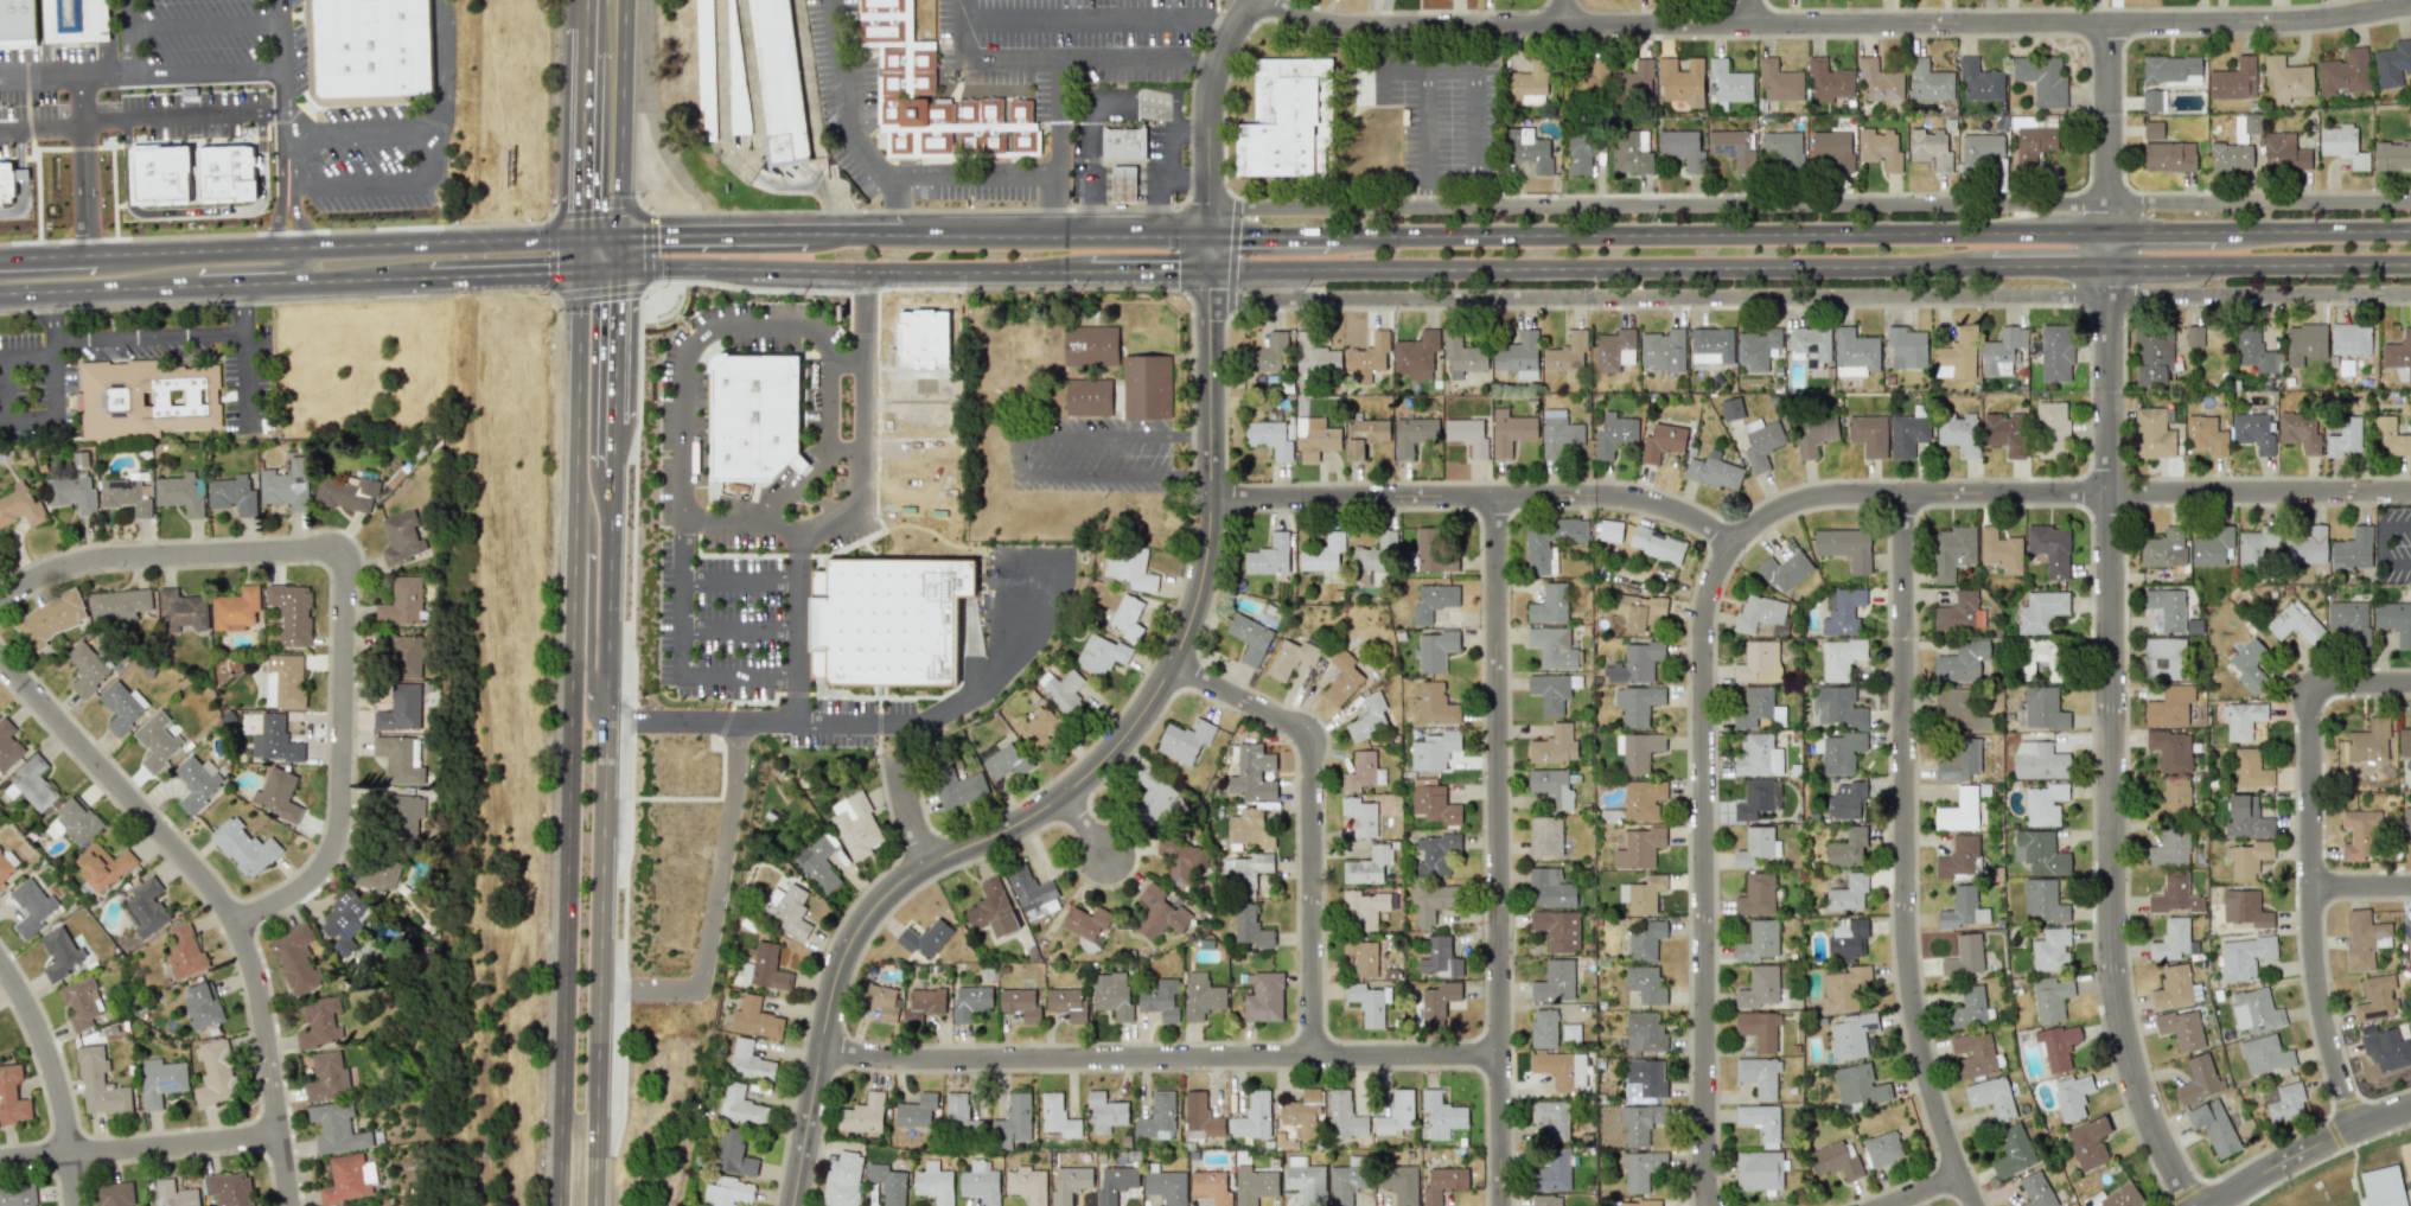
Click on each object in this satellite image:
road: (442, 2)
road: (281, 7)
road: (127, 12)
road: (1567, 12)
road: (1743, 12)
building: (74, 20)
road: (181, 21)
road: (1101, 21)
building: (15, 23)
road: (1837, 24)
road: (44, 38)
road: (283, 40)
building: (365, 50)
road: (1066, 52)
building: (706, 62)
rooftop solar panel: (2402, 62)
building: (2392, 64)
building: (734, 66)
building: (2171, 69)
road: (187, 70)
building: (906, 70)
road: (1449, 71)
road: (1404, 72)
building: (2343, 72)
road: (77, 74)
building: (1595, 74)
road: (58, 75)
building: (780, 75)
road: (44, 76)
building: (2286, 78)
building: (1637, 79)
building: (2041, 79)
building: (2234, 79)
building: (1682, 81)
building: (1779, 81)
building: (1930, 81)
building: (1979, 81)
building: (1727, 82)
building: (1829, 82)
building: (1880, 82)
road: (1384, 84)
building: (1527, 84)
road: (21, 85)
building: (2151, 100)
parking lot: (272, 103)
railway: (476, 107)
road: (1133, 108)
road: (1213, 113)
building: (2410, 114)
parking lot: (62, 117)
road: (582, 119)
road: (619, 119)
parking lot: (1439, 119)
road: (844, 121)
building: (1287, 122)
road: (1474, 122)
road: (1425, 125)
road: (2109, 125)
road: (282, 128)
road: (209, 129)
road: (423, 129)
building: (2152, 129)
road: (32, 136)
building: (1124, 142)
road: (1053, 143)
building: (2034, 145)
building: (2342, 145)
building: (1731, 147)
building: (1781, 147)
building: (1527, 148)
building: (1682, 148)
building: (1833, 148)
building: (1880, 148)
building: (1931, 148)
building: (1979, 149)
building: (1583, 151)
building: (1631, 152)
building: (2284, 152)
building: (2392, 155)
building: (2169, 157)
building: (2231, 157)
building: (242, 160)
road: (95, 161)
road: (64, 162)
building: (173, 164)
road: (967, 181)
building: (1124, 183)
building: (6, 187)
road: (387, 187)
road: (1424, 193)
road: (176, 196)
road: (47, 203)
road: (1811, 205)
road: (280, 218)
road: (300, 218)
road: (2314, 225)
road: (2163, 226)
road: (1718, 230)
road: (861, 234)
road: (1270, 234)
road: (714, 235)
road: (1061, 235)
road: (598, 237)
traffic signals: (617, 237)
traffic signals: (580, 238)
road: (289, 245)
road: (2110, 245)
road: (1213, 251)
road: (617, 253)
road: (2260, 263)
road: (2048, 264)
road: (1600, 266)
road: (850, 268)
road: (1149, 268)
road: (237, 269)
traffic signals: (617, 269)
traffic signals: (579, 270)
road: (69, 272)
road: (522, 272)
road: (215, 282)
road: (851, 289)
road: (1812, 293)
road: (224, 301)
road: (244, 312)
road: (51, 313)
road: (680, 319)
road: (863, 333)
building: (2194, 336)
road: (58, 338)
building: (2351, 339)
road: (164, 343)
building: (2304, 343)
building: (1090, 345)
building: (1711, 345)
building: (1810, 345)
building: (1906, 346)
building: (1613, 349)
building: (1756, 349)
building: (1663, 350)
building: (2253, 350)
building: (2003, 351)
road: (20, 352)
building: (1854, 352)
road: (687, 353)
building: (1314, 353)
building: (1957, 355)
building: (2054, 355)
building: (1417, 356)
building: (1462, 356)
building: (1518, 356)
building: (1567, 356)
building: (2399, 356)
building: (2152, 357)
building: (1269, 358)
building: (1369, 358)
road: (843, 360)
road: (249, 385)
building: (1146, 387)
road: (863, 388)
road: (6, 390)
building: (148, 397)
road: (828, 397)
building: (1087, 397)
road: (55, 404)
building: (1730, 408)
building: (754, 413)
road: (4, 427)
building: (2052, 429)
building: (1511, 430)
building: (2253, 430)
building: (2298, 432)
road: (1096, 433)
road: (1195, 433)
building: (1560, 433)
building: (1959, 433)
building: (2005, 433)
building: (1614, 434)
building: (1814, 434)
building: (1868, 434)
building: (1907, 434)
building: (2152, 434)
building: (2206, 434)
building: (1412, 435)
building: (1467, 435)
building: (1364, 436)
building: (2390, 436)
building: (1270, 438)
building: (1319, 438)
building: (2343, 439)
building: (1661, 442)
building: (1761, 442)
road: (842, 448)
road: (1019, 454)
building: (1714, 471)
road: (1198, 472)
road: (1098, 474)
building: (142, 481)
rooftop solar panel: (125, 483)
building: (286, 485)
road: (782, 486)
building: (72, 492)
building: (181, 493)
building: (234, 493)
building: (346, 493)
road: (1478, 493)
building: (125, 496)
building: (20, 506)
road: (830, 516)
road: (695, 519)
road: (723, 524)
road: (760, 525)
road: (789, 525)
road: (2396, 527)
building: (1610, 530)
road: (1739, 534)
building: (401, 538)
building: (1551, 542)
building: (1657, 544)
building: (2257, 544)
building: (2213, 545)
road: (2380, 545)
building: (1845, 547)
building: (2307, 547)
building: (2050, 548)
building: (2166, 548)
building: (2353, 549)
building: (2001, 550)
building: (1433, 551)
building: (1952, 551)
road: (719, 554)
building: (1322, 554)
building: (1269, 556)
road: (2396, 563)
building: (1129, 567)
building: (1785, 570)
road: (741, 578)
building: (818, 583)
road: (342, 586)
road: (682, 594)
building: (401, 602)
building: (1434, 602)
building: (1550, 604)
building: (119, 605)
building: (2167, 607)
building: (235, 608)
building: (181, 610)
building: (1640, 611)
building: (1842, 611)
building: (1959, 612)
building: (2040, 612)
building: (292, 613)
building: (1758, 613)
building: (1128, 617)
building: (50, 618)
building: (888, 619)
building: (2349, 619)
building: (2394, 620)
road: (798, 621)
building: (2294, 623)
road: (740, 627)
building: (1249, 638)
building: (1552, 646)
building: (1434, 650)
building: (401, 653)
building: (1101, 653)
building: (2032, 653)
building: (1841, 657)
building: (1290, 658)
building: (2163, 658)
building: (1962, 661)
building: (1759, 662)
building: (1635, 663)
building: (2247, 665)
building: (85, 668)
road: (739, 674)
building: (1342, 679)
building: (283, 681)
building: (1063, 689)
building: (1550, 691)
road: (755, 700)
building: (1434, 702)
building: (1638, 704)
building: (121, 706)
building: (1839, 706)
building: (2169, 706)
building: (400, 708)
building: (1758, 708)
building: (1957, 708)
building: (2041, 708)
road: (353, 710)
building: (1367, 717)
building: (2241, 719)
road: (867, 720)
road: (568, 721)
road: (878, 726)
building: (1038, 727)
road: (605, 738)
building: (274, 739)
building: (1184, 740)
building: (157, 741)
building: (2369, 741)
building: (2404, 741)
road: (2112, 742)
building: (7, 745)
building: (1554, 746)
building: (1434, 749)
building: (2170, 749)
building: (1638, 751)
building: (1838, 752)
railway: (487, 753)
building: (1758, 755)
building: (397, 759)
building: (1004, 760)
building: (1959, 760)
building: (2037, 760)
building: (2250, 768)
building: (1361, 771)
building: (1252, 773)
road: (1074, 780)
building: (197, 783)
building: (32, 784)
building: (956, 785)
building: (1551, 785)
building: (276, 795)
building: (1153, 795)
building: (2174, 796)
building: (1641, 799)
building: (1754, 799)
building: (1848, 799)
building: (1434, 804)
building: (2043, 804)
road: (910, 806)
building: (1959, 810)
building: (400, 812)
road: (1312, 816)
building: (1359, 816)
building: (2246, 818)
building: (75, 821)
road: (1082, 822)
building: (2406, 823)
building: (855, 825)
building: (1249, 828)
building: (2359, 835)
building: (1544, 836)
building: (1756, 846)
building: (244, 847)
building: (1639, 848)
building: (1848, 848)
road: (1498, 849)
building: (2169, 849)
building: (2040, 851)
road: (1905, 853)
building: (1434, 854)
building: (1958, 857)
road: (2311, 857)
building: (1180, 860)
building: (2247, 860)
building: (818, 863)
building: (102, 866)
building: (1370, 866)
building: (5, 868)
building: (377, 872)
building: (1245, 872)
building: (1550, 887)
road: (2361, 888)
building: (2170, 892)
building: (1032, 893)
road: (217, 894)
building: (1643, 894)
building: (1756, 894)
building: (1848, 894)
building: (2042, 901)
building: (1430, 902)
road: (714, 904)
building: (31, 906)
building: (145, 907)
building: (1365, 907)
building: (1963, 908)
building: (2245, 908)
building: (786, 910)
building: (991, 910)
building: (1160, 912)
building: (344, 920)
building: (1086, 921)
building: (1250, 926)
rooftop solar panel: (351, 929)
building: (1557, 930)
rooftop solar panel: (2407, 931)
building: (924, 938)
building: (1846, 938)
building: (2171, 939)
building: (2364, 939)
building: (2406, 939)
building: (1645, 940)
building: (1759, 940)
rooftop solar panel: (343, 947)
building: (183, 950)
building: (2050, 950)
building: (60, 953)
building: (1965, 956)
building: (2244, 956)
building: (1363, 957)
building: (1440, 957)
building: (295, 959)
building: (765, 968)
road: (817, 968)
building: (1555, 981)
building: (1645, 983)
building: (1760, 987)
building: (1843, 987)
building: (2173, 987)
building: (1112, 994)
building: (1200, 996)
building: (880, 997)
building: (1263, 997)
building: (2377, 997)
building: (2052, 998)
building: (1161, 1000)
building: (970, 1001)
building: (1437, 1001)
building: (81, 1002)
building: (1367, 1002)
building: (923, 1003)
building: (1066, 1003)
building: (202, 1004)
building: (1020, 1004)
building: (1967, 1008)
building: (2256, 1010)
building: (755, 1017)
building: (319, 1022)
building: (1543, 1028)
building: (1759, 1028)
building: (2181, 1028)
building: (1644, 1032)
building: (1850, 1035)
building: (2056, 1046)
building: (2386, 1049)
building: (1972, 1054)
building: (2264, 1054)
road: (1160, 1057)
building: (748, 1060)
building: (1561, 1068)
building: (215, 1073)
building: (327, 1076)
building: (1759, 1076)
road: (55, 1078)
building: (1644, 1078)
building: (2199, 1079)
building: (160, 1080)
rooftop solar panel: (168, 1083)
building: (100, 1084)
building: (1860, 1085)
building: (12, 1095)
building: (2072, 1096)
building: (1991, 1097)
building: (2284, 1102)
building: (740, 1105)
building: (916, 1110)
building: (1105, 1111)
building: (959, 1112)
building: (1397, 1112)
building: (863, 1114)
building: (1303, 1114)
building: (1442, 1115)
building: (1057, 1116)
building: (1200, 1116)
building: (1254, 1116)
building: (1344, 1116)
building: (1157, 1117)
building: (1551, 1117)
building: (1013, 1121)
building: (1641, 1122)
building: (1761, 1122)
building: (2214, 1127)
building: (336, 1128)
building: (2087, 1143)
road: (138, 1147)
building: (1882, 1149)
building: (2013, 1150)
road: (2307, 1150)
building: (734, 1153)
building: (1835, 1161)
building: (1640, 1169)
building: (1759, 1170)
building: (1552, 1172)
building: (347, 1179)
building: (842, 1179)
building: (1305, 1179)
building: (933, 1182)
building: (980, 1182)
building: (1116, 1182)
building: (1442, 1182)
building: (888, 1183)
building: (1069, 1183)
building: (1345, 1183)
building: (1401, 1183)
park: (2316, 1183)
building: (1027, 1185)
building: (1254, 1185)
building: (1166, 1186)
building: (1211, 1186)
building: (2383, 1187)
building: (229, 1188)
road: (1920, 1189)
building: (2036, 1189)
building: (728, 1192)
building: (17, 1194)
building: (114, 1194)
building: (174, 1194)
building: (2116, 1197)
building: (1548, 1200)
building: (1639, 1202)
building: (364, 1205)

